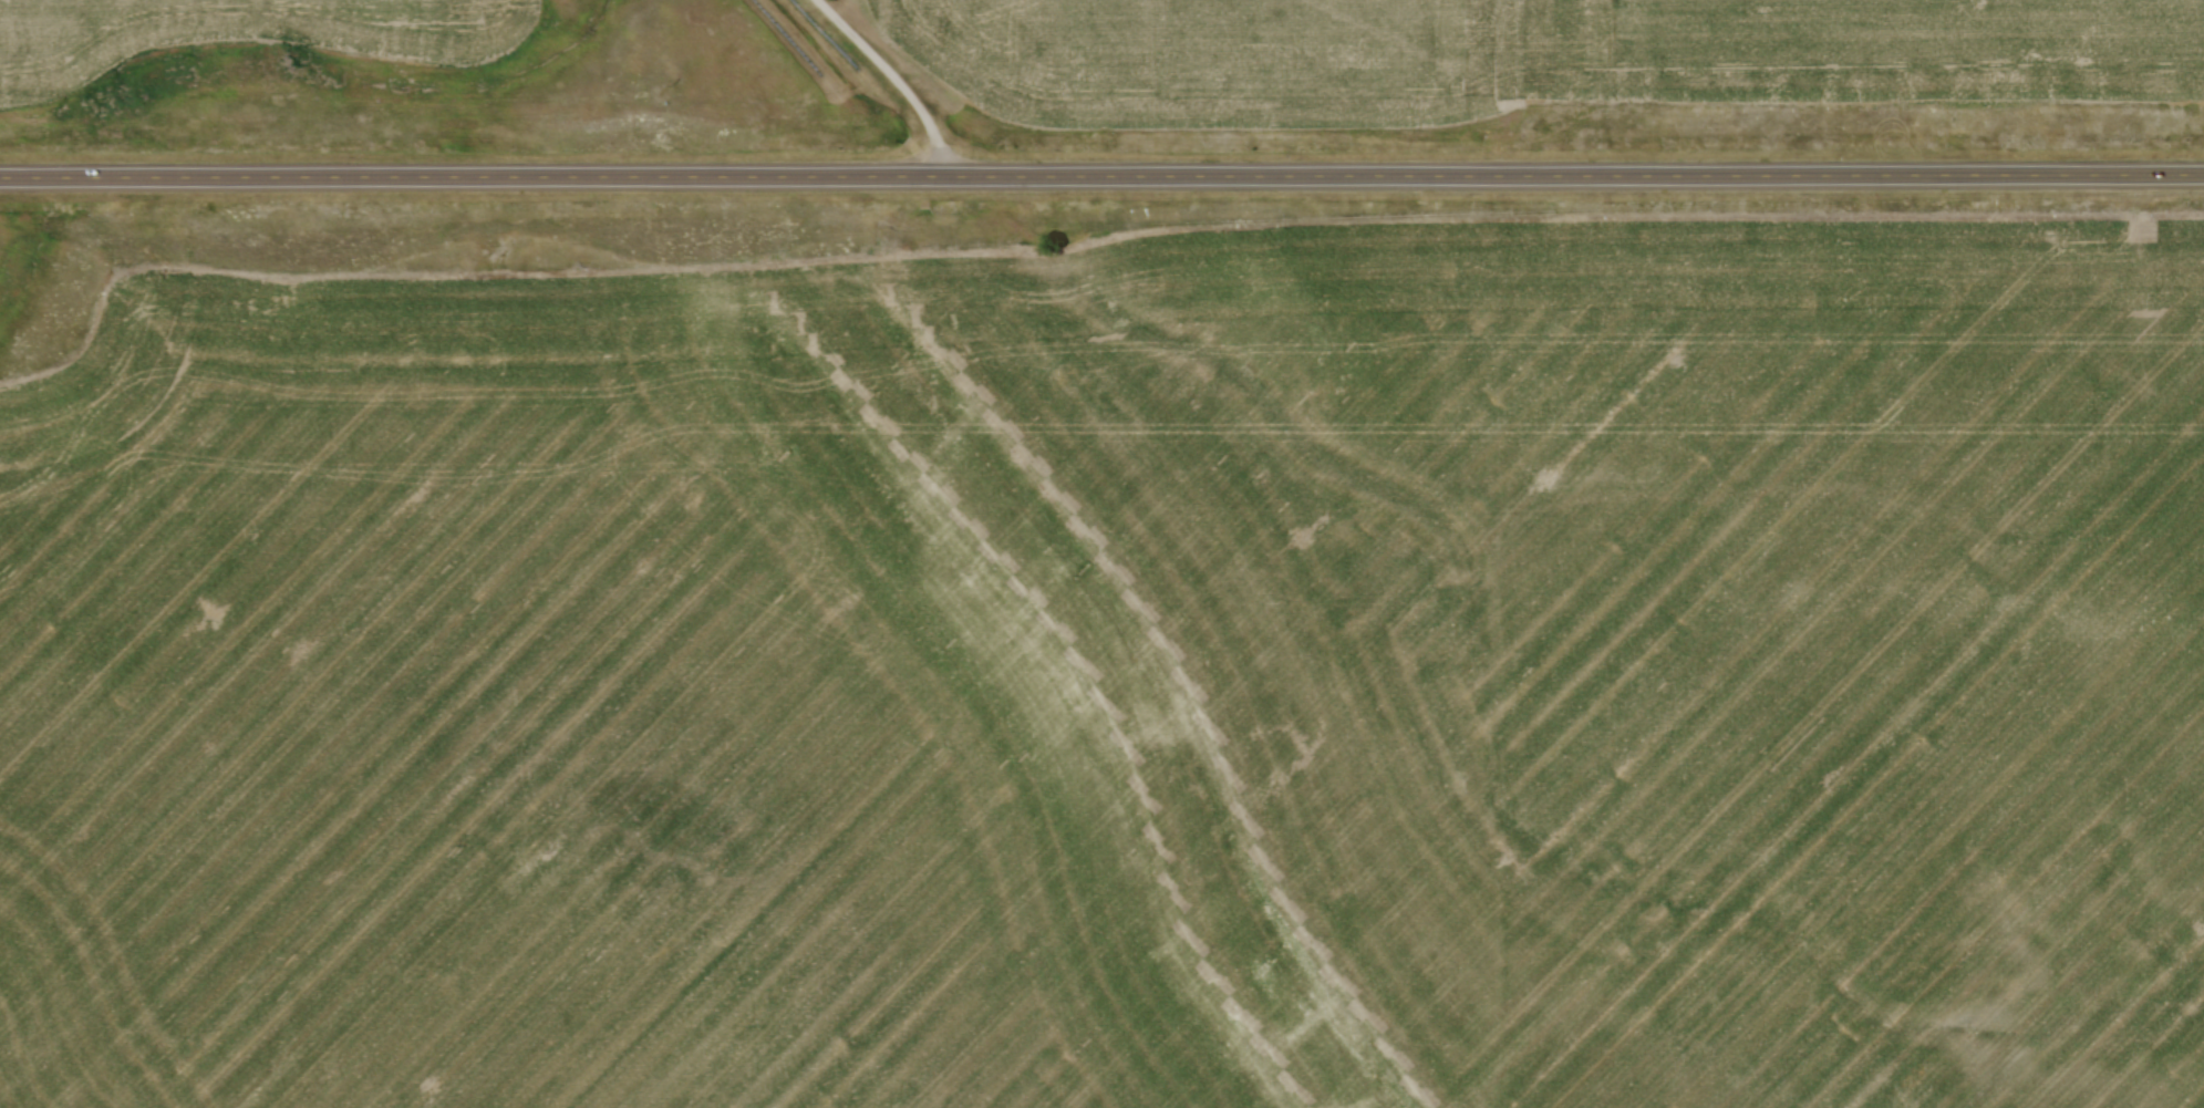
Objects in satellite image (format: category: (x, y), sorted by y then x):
road: (897, 77)
road: (1101, 176)

